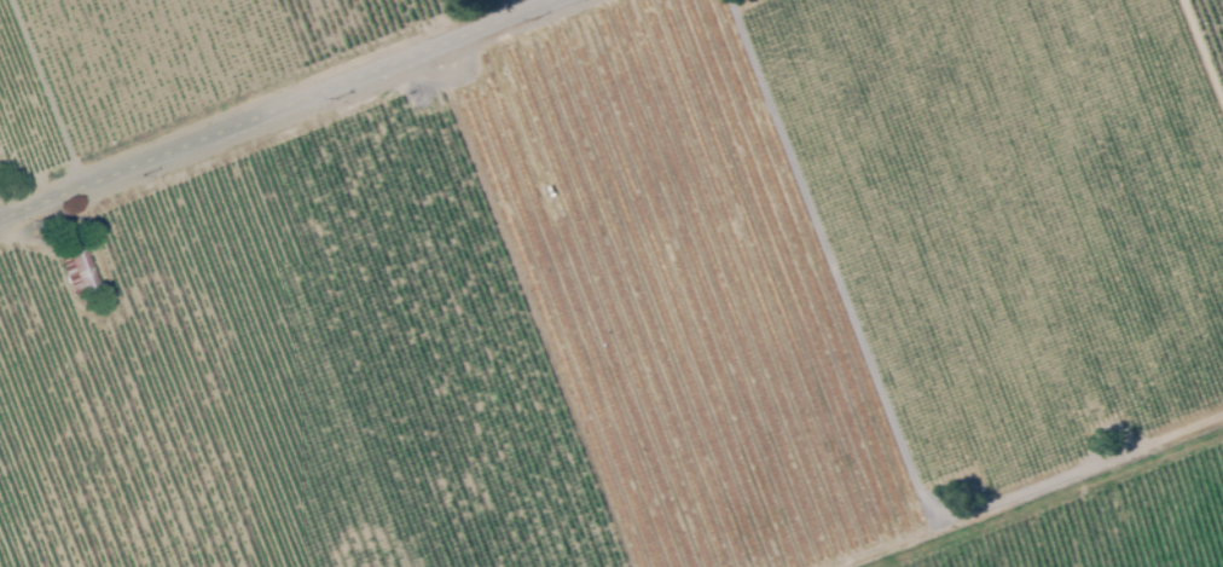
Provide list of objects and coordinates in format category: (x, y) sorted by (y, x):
road: (502, 7)
road: (272, 108)
building: (69, 243)
building: (77, 272)

